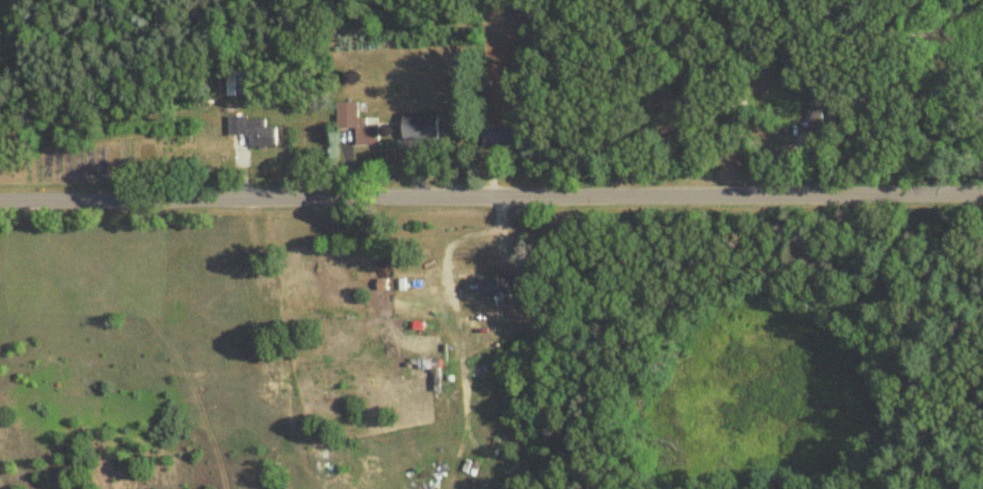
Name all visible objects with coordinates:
building: (792, 58)
building: (238, 83)
building: (818, 116)
building: (739, 119)
building: (358, 125)
building: (422, 127)
building: (254, 131)
building: (509, 137)
road: (491, 196)
building: (505, 288)

